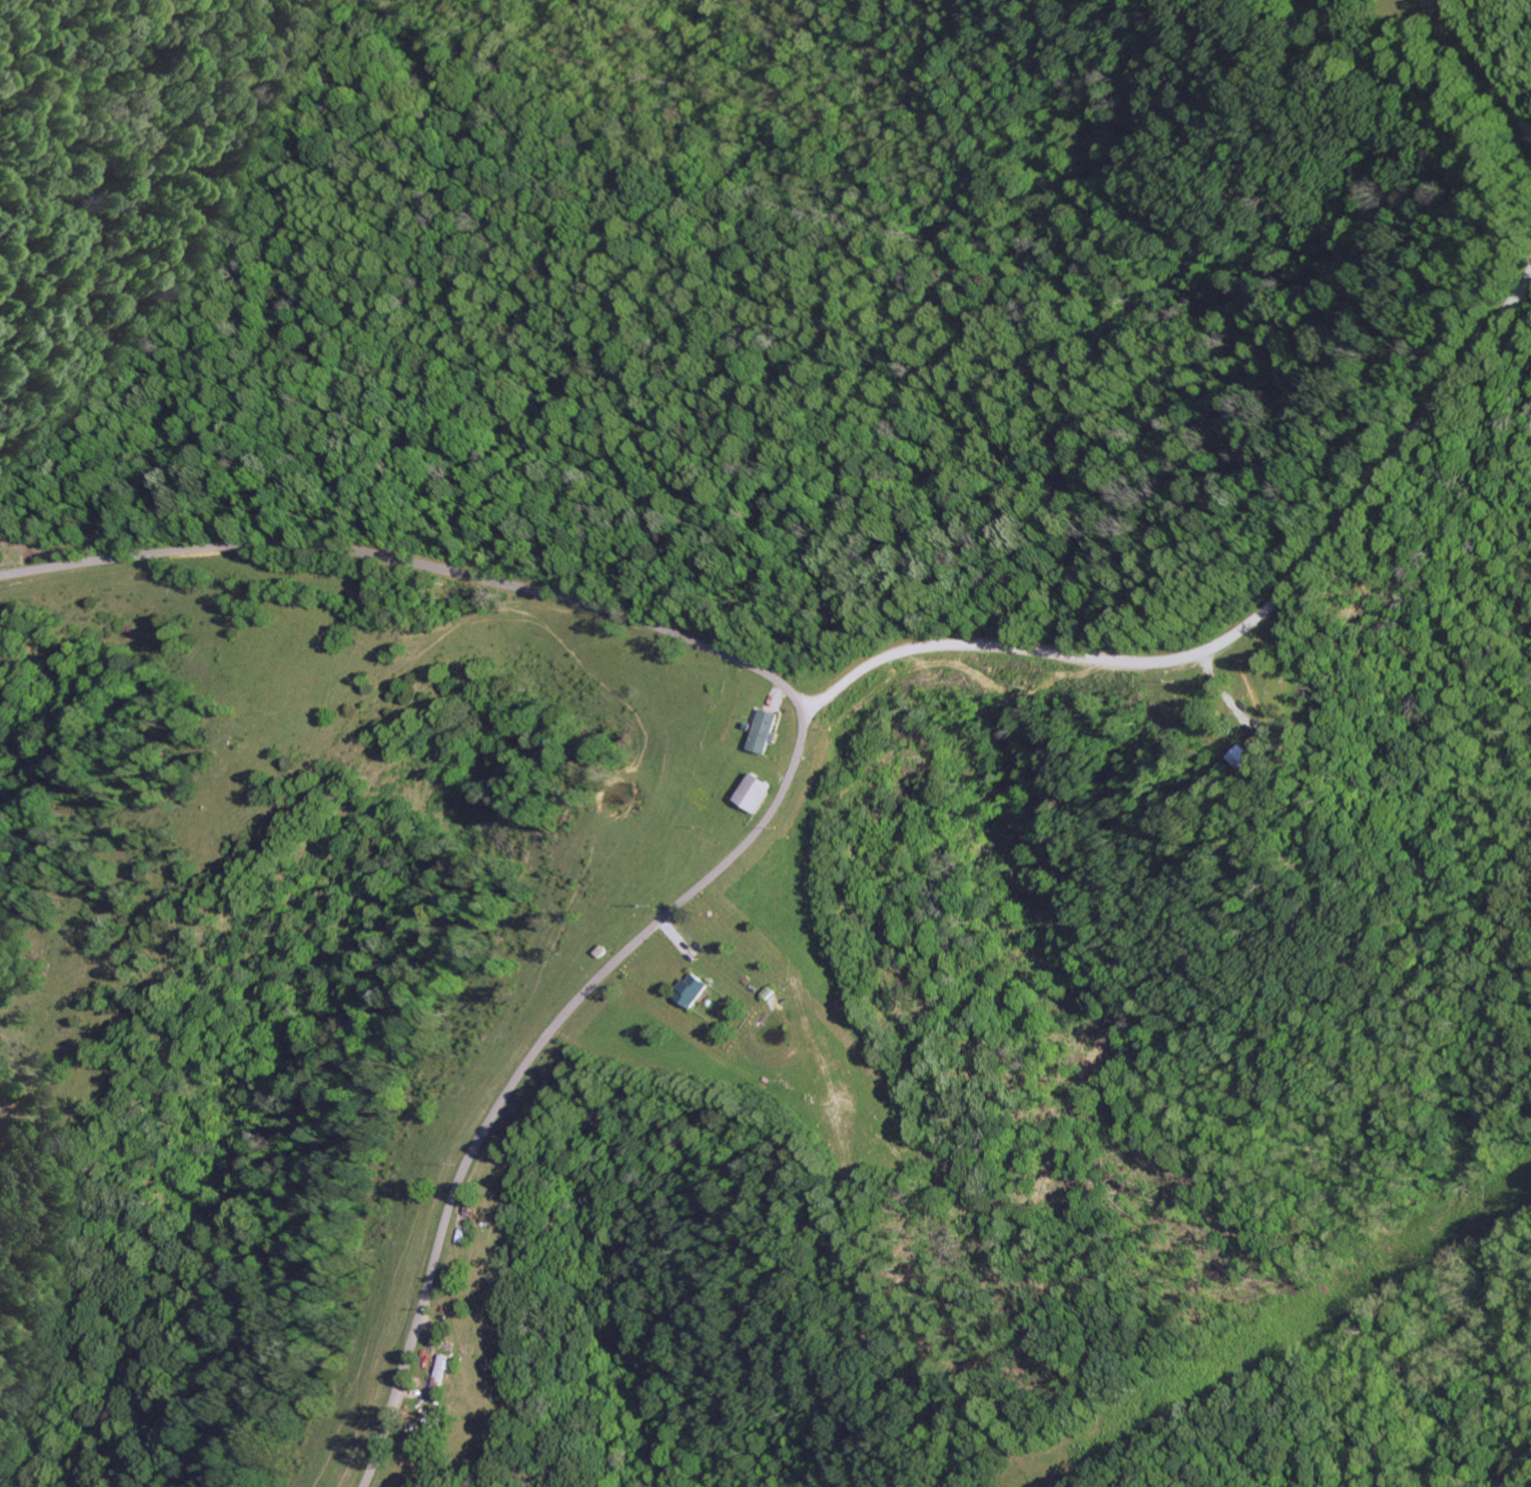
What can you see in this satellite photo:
road: (1488, 66)
road: (418, 564)
road: (1238, 634)
building: (761, 733)
building: (1240, 758)
building: (750, 795)
building: (691, 992)
road: (529, 1063)
building: (442, 1376)

